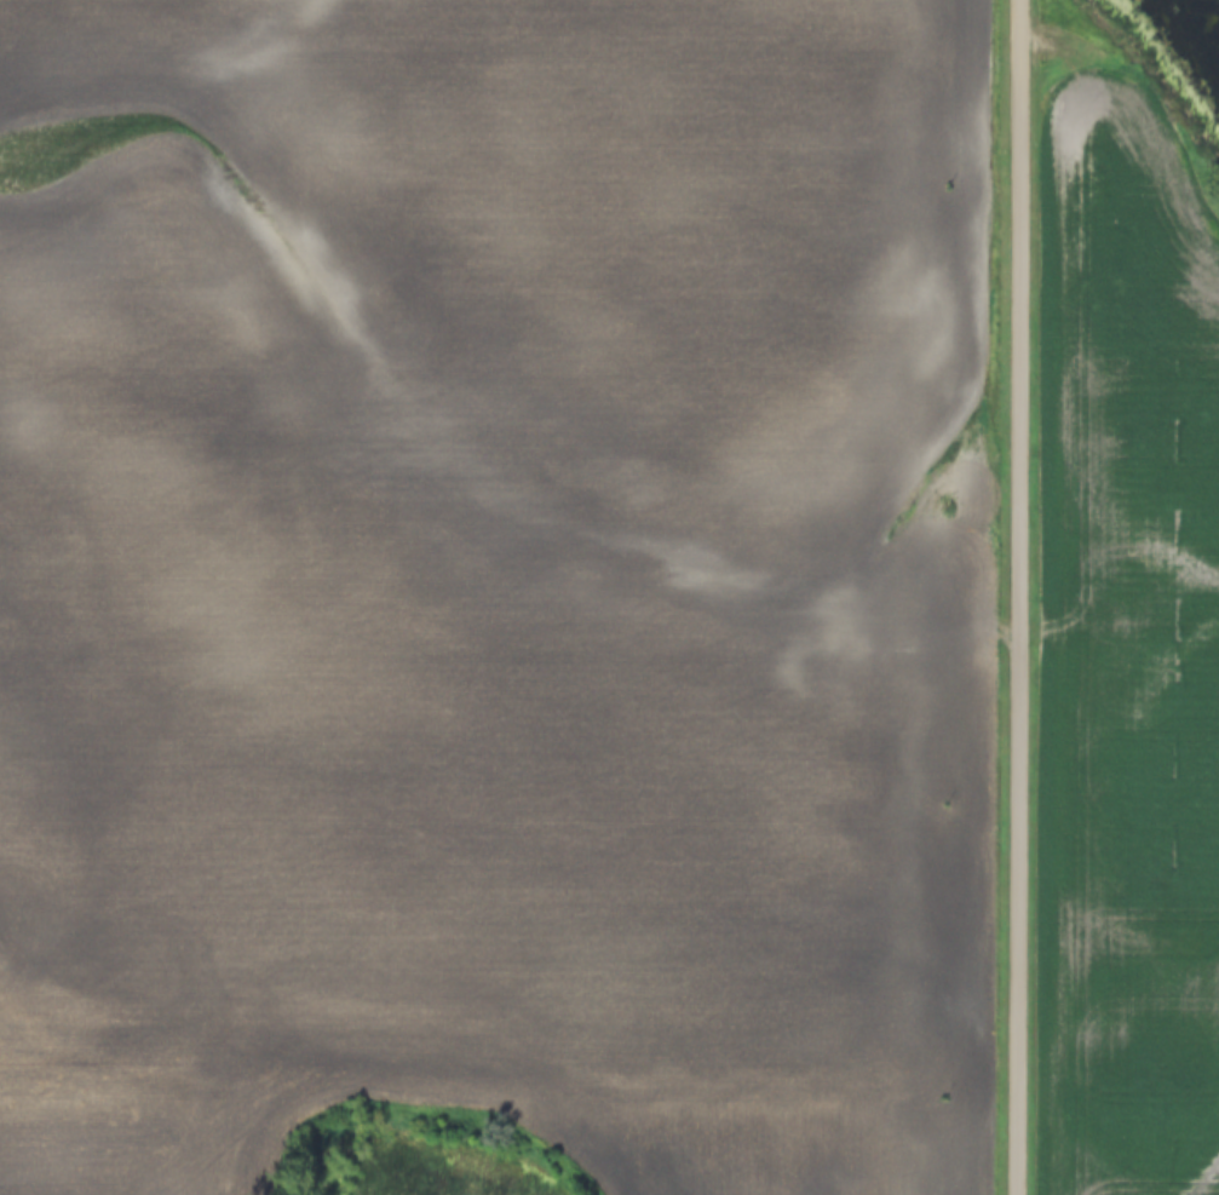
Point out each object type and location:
road: (1020, 597)

